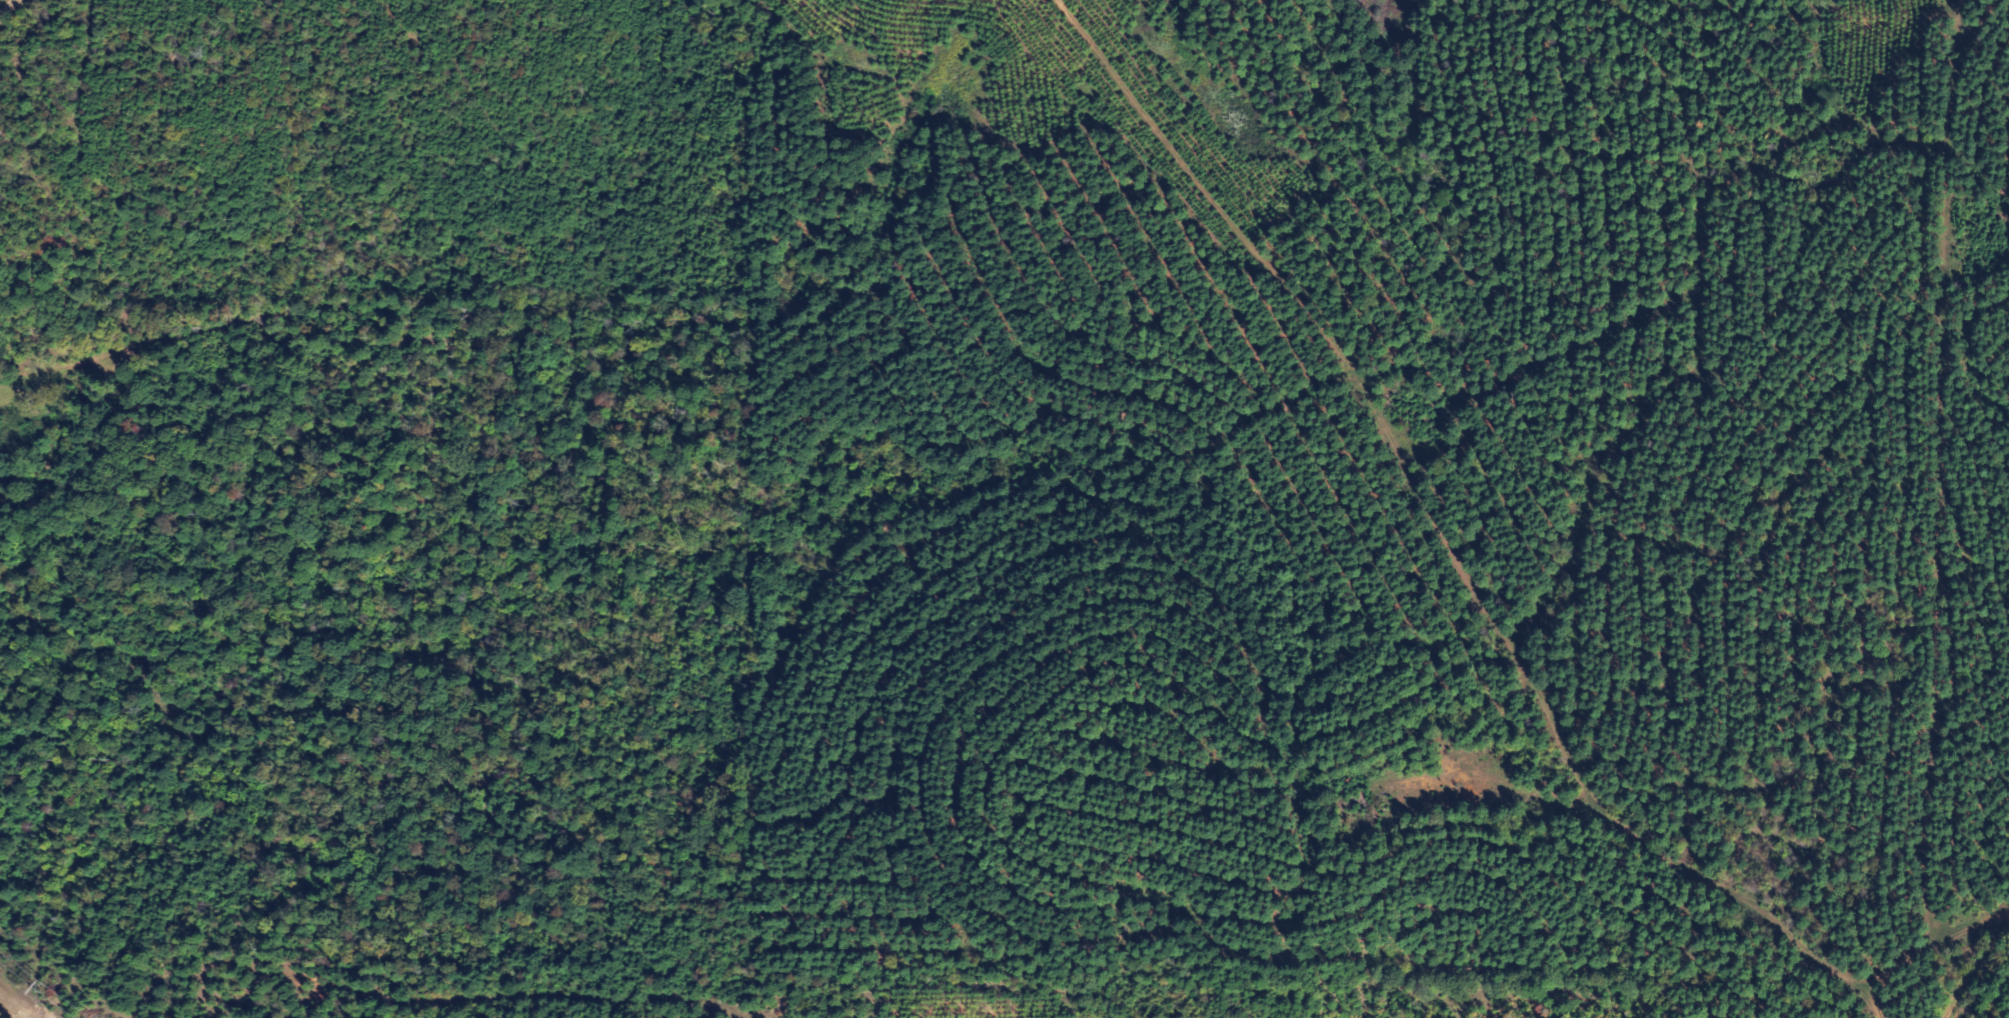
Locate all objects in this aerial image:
road: (13, 10)
road: (1, 22)

